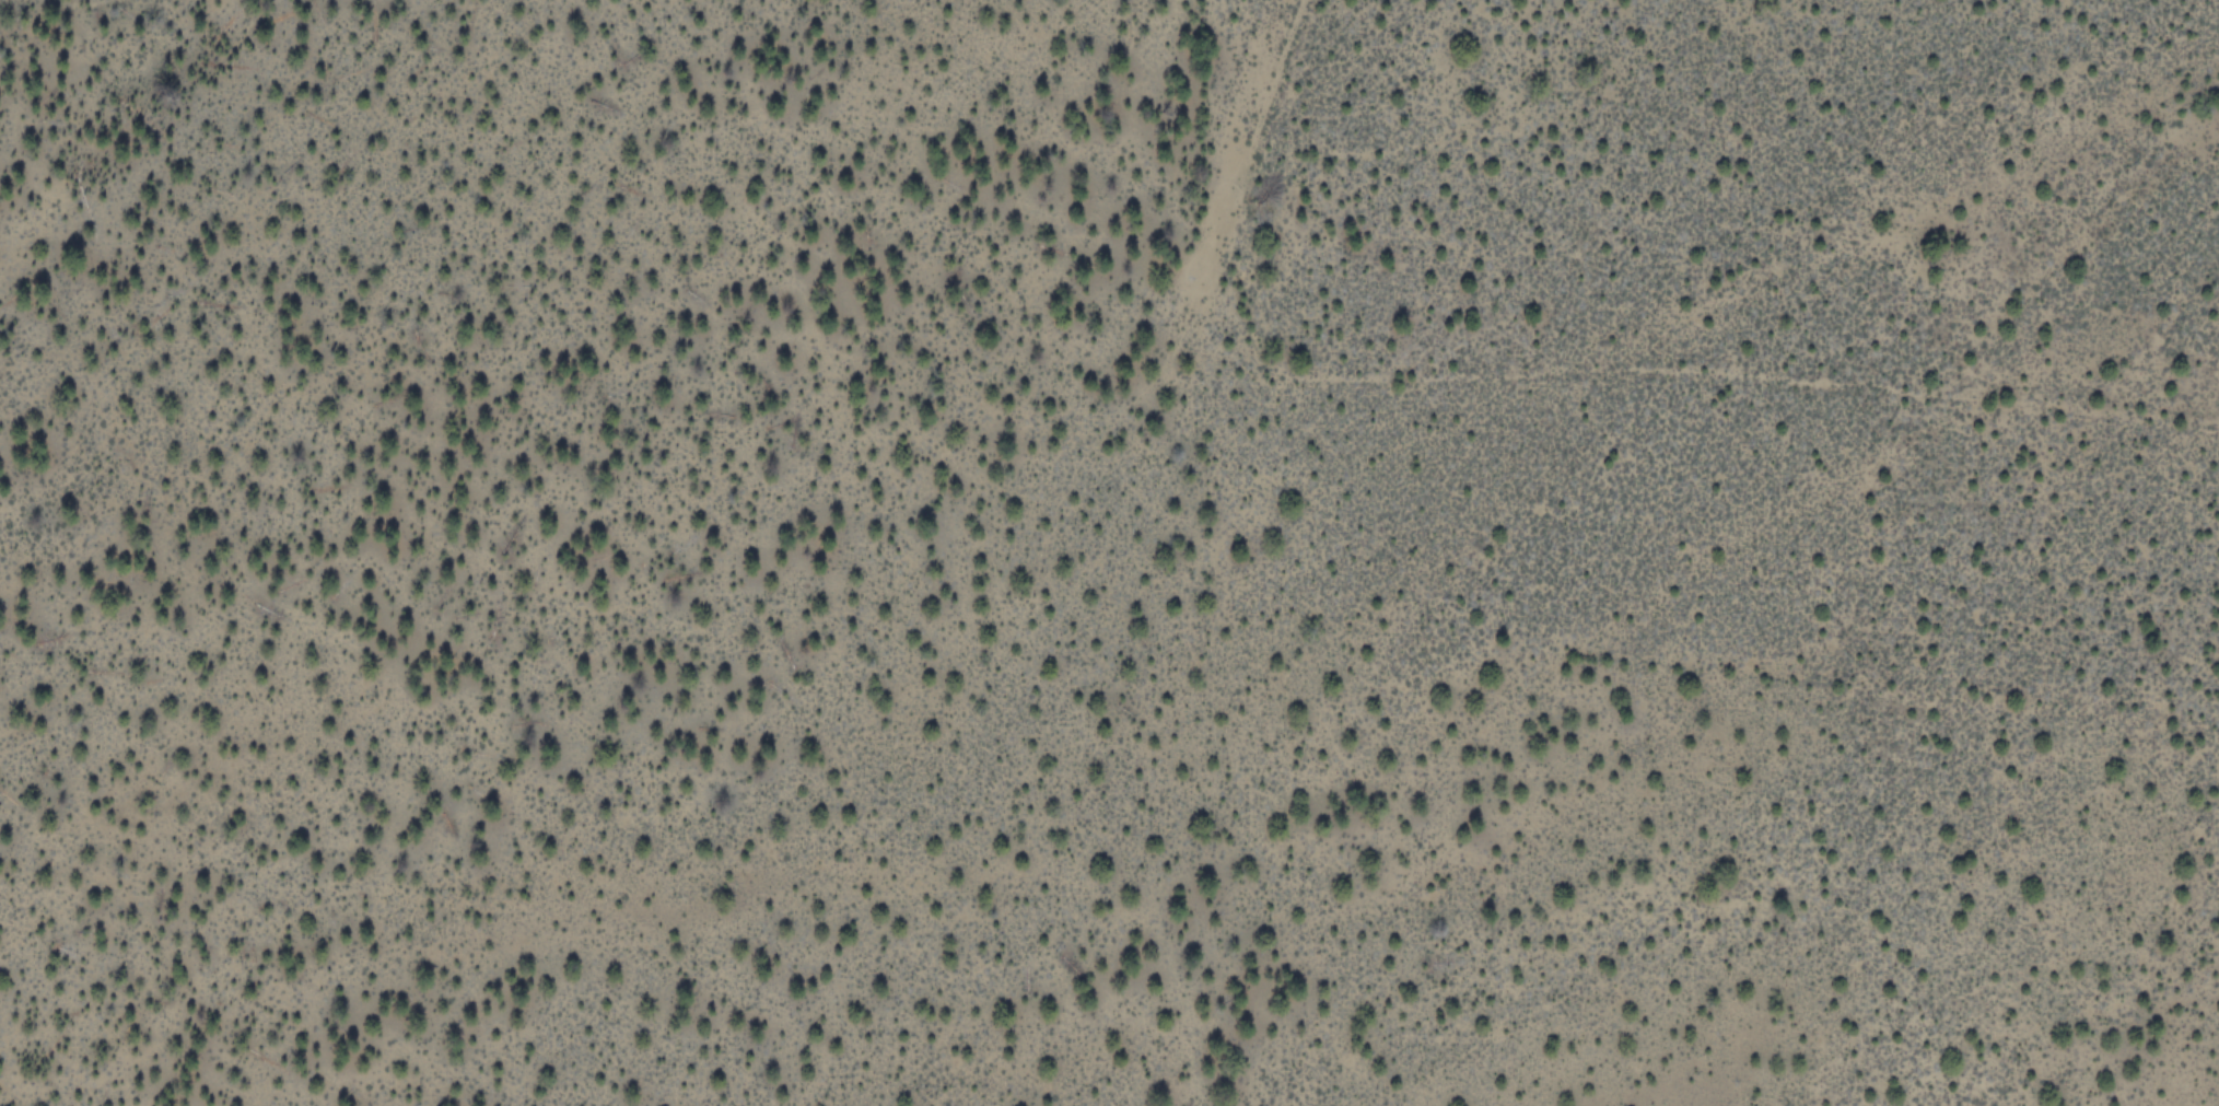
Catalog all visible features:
airport runway: (1265, 95)

